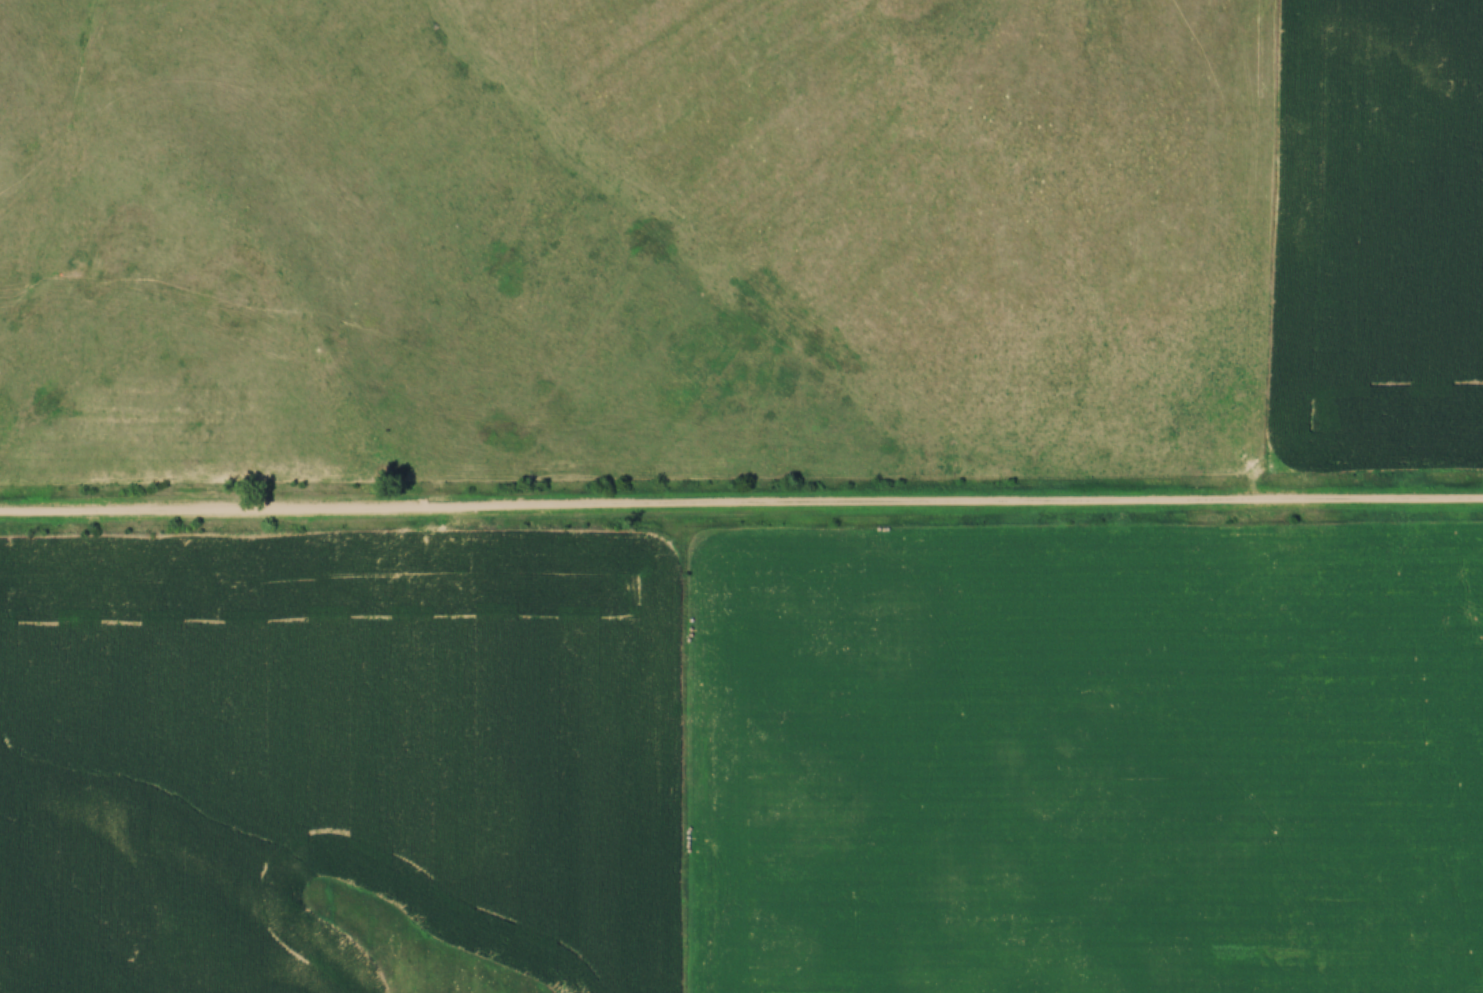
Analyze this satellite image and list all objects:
crop: (1376, 235)
road: (741, 507)
crop: (341, 766)

